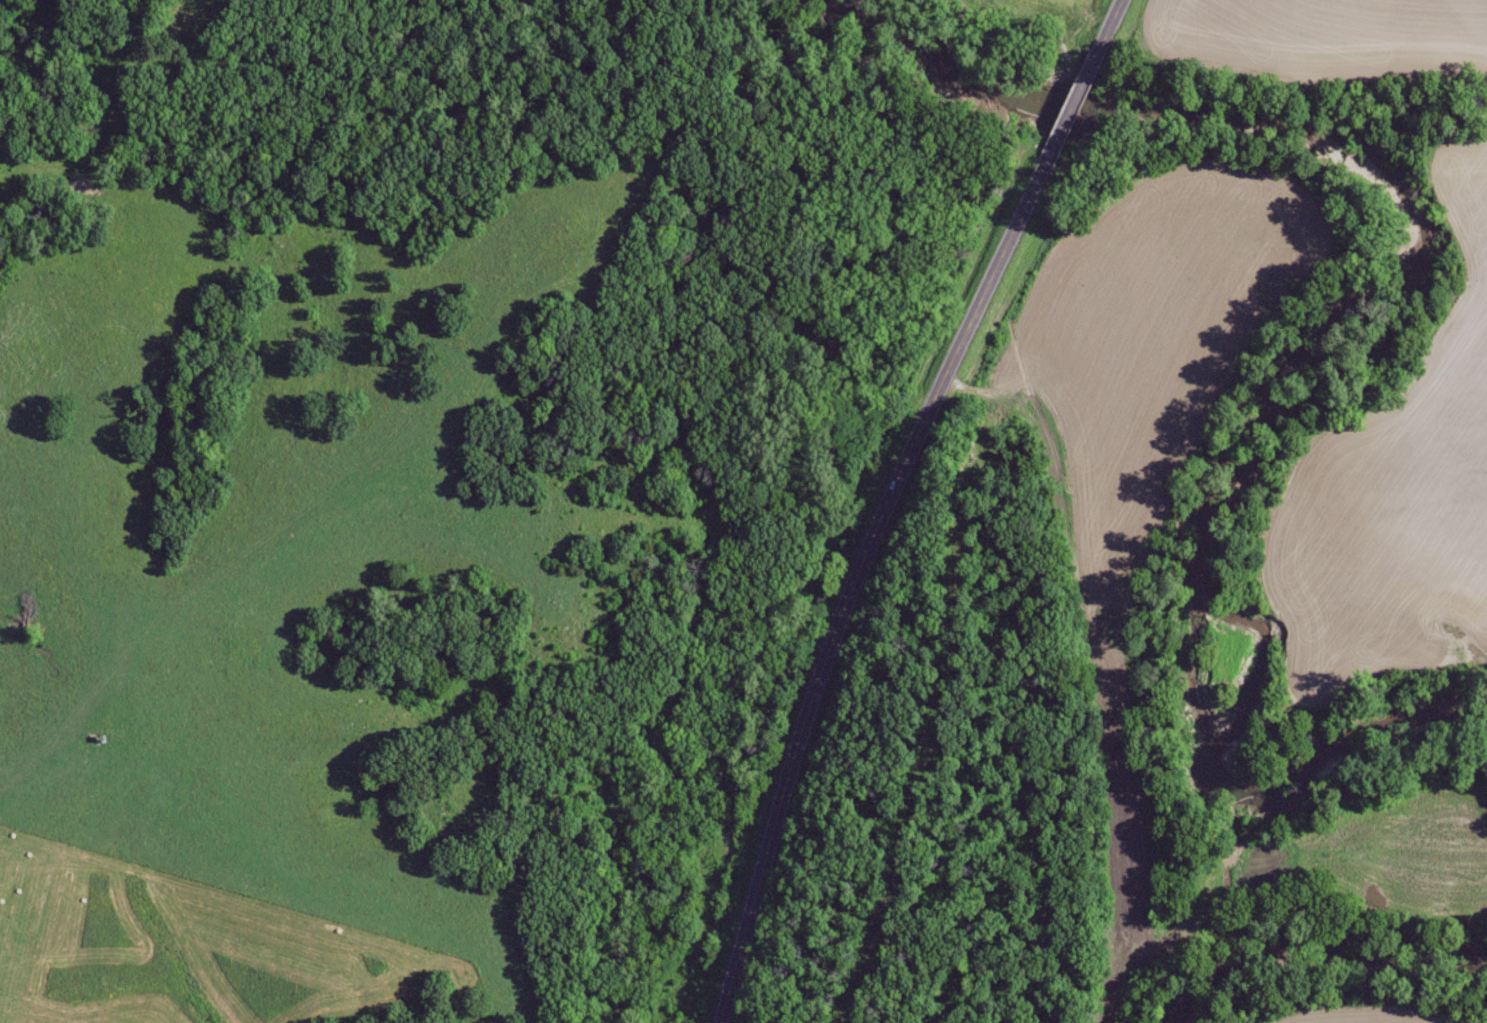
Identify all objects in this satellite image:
road: (843, 493)

